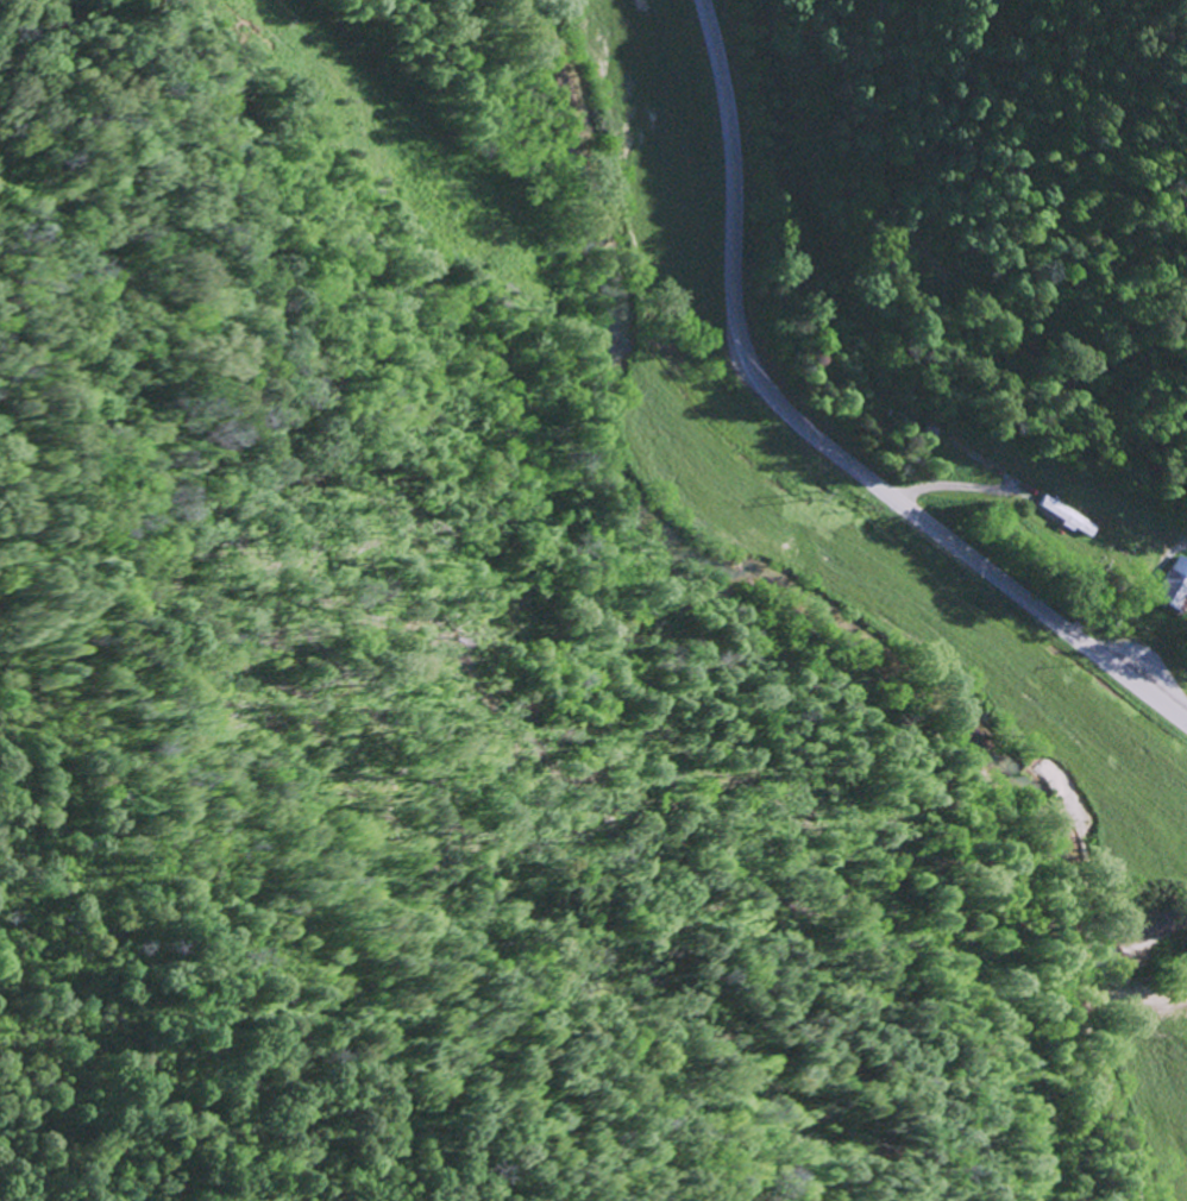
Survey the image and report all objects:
road: (818, 434)
building: (1066, 515)
park: (1123, 546)
building: (1174, 585)
road: (1125, 1086)

